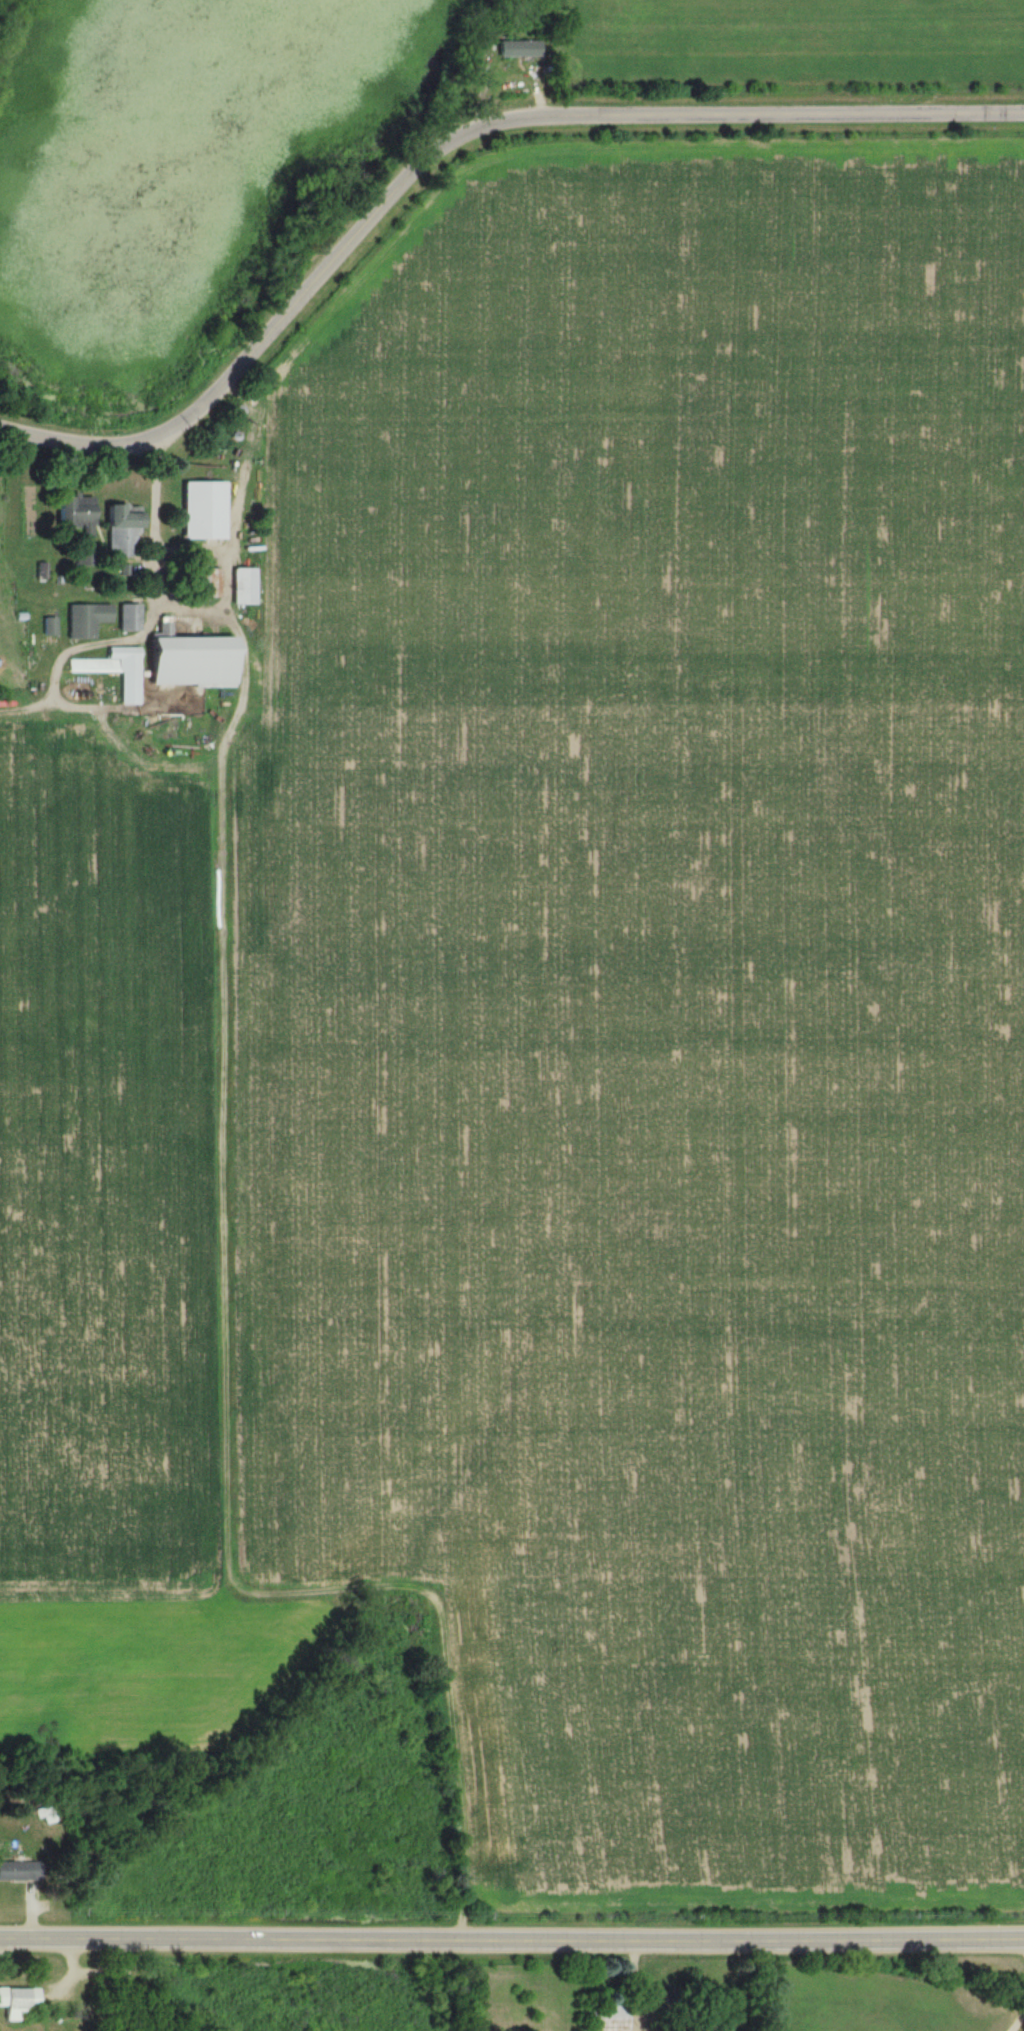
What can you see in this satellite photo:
building: (515, 50)
road: (447, 133)
building: (200, 510)
building: (72, 514)
road: (232, 523)
building: (118, 531)
building: (82, 558)
building: (207, 583)
building: (240, 586)
building: (126, 617)
building: (83, 620)
road: (145, 623)
building: (47, 626)
building: (185, 661)
building: (112, 671)
building: (45, 1814)
building: (19, 1871)
road: (511, 1933)
road: (127, 1982)
building: (16, 2003)
road: (1019, 2015)
building: (602, 2018)

